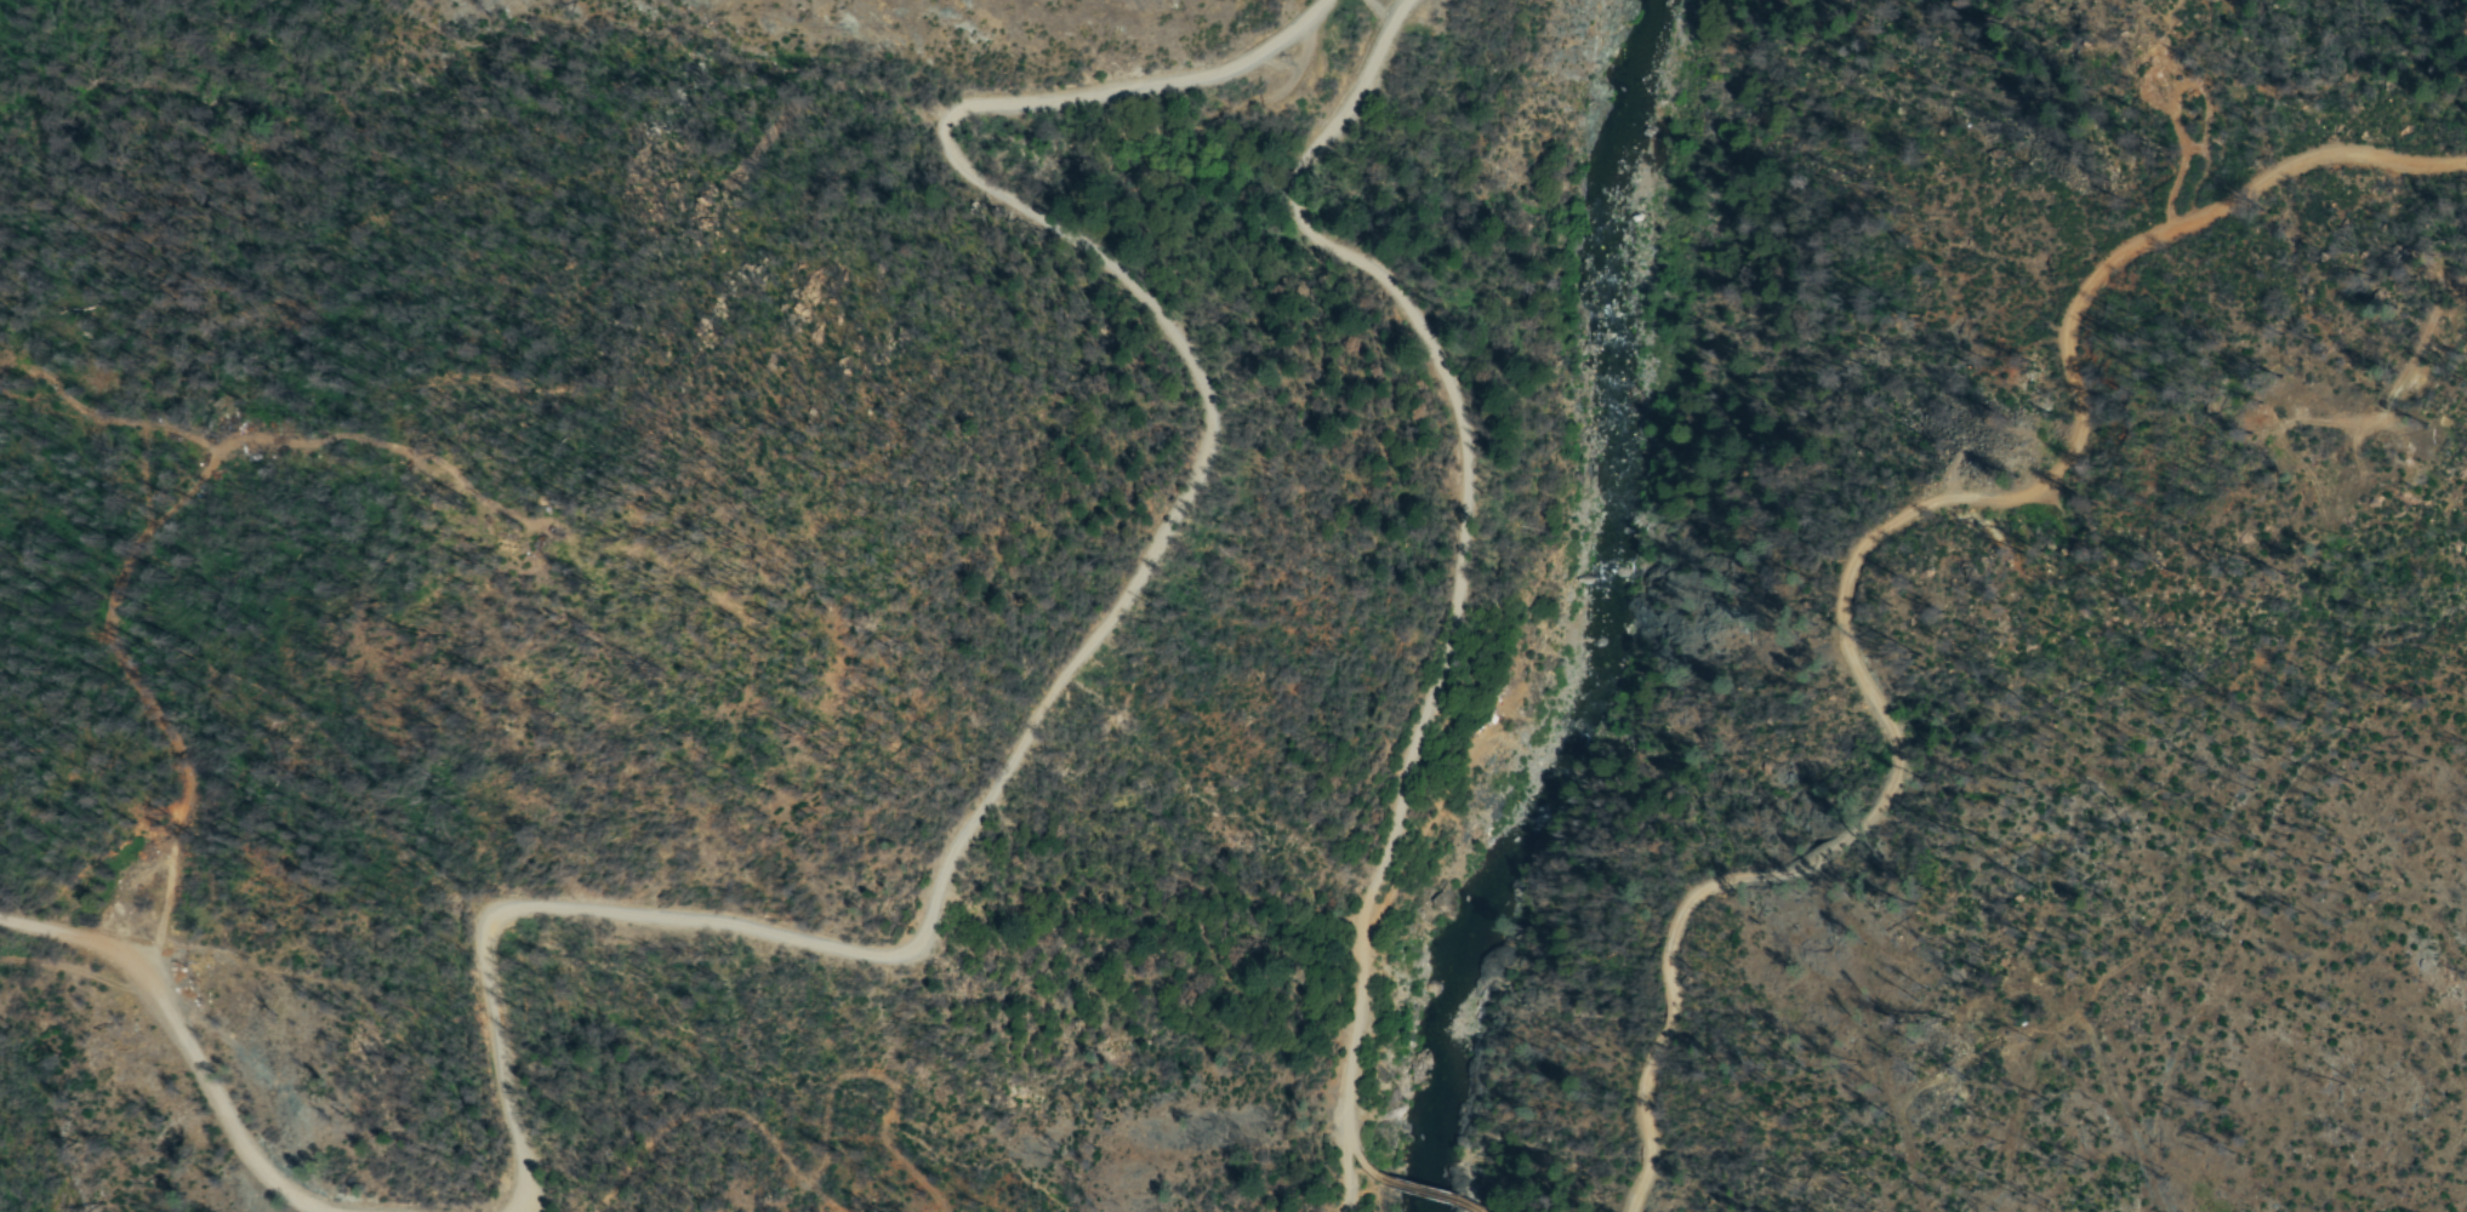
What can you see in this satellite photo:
road: (1863, 538)
road: (1458, 564)
river: (1555, 611)
road: (1089, 642)
road: (186, 1029)
road: (1324, 1164)
road: (1406, 1188)
road: (1286, 1194)
road: (1460, 1207)

